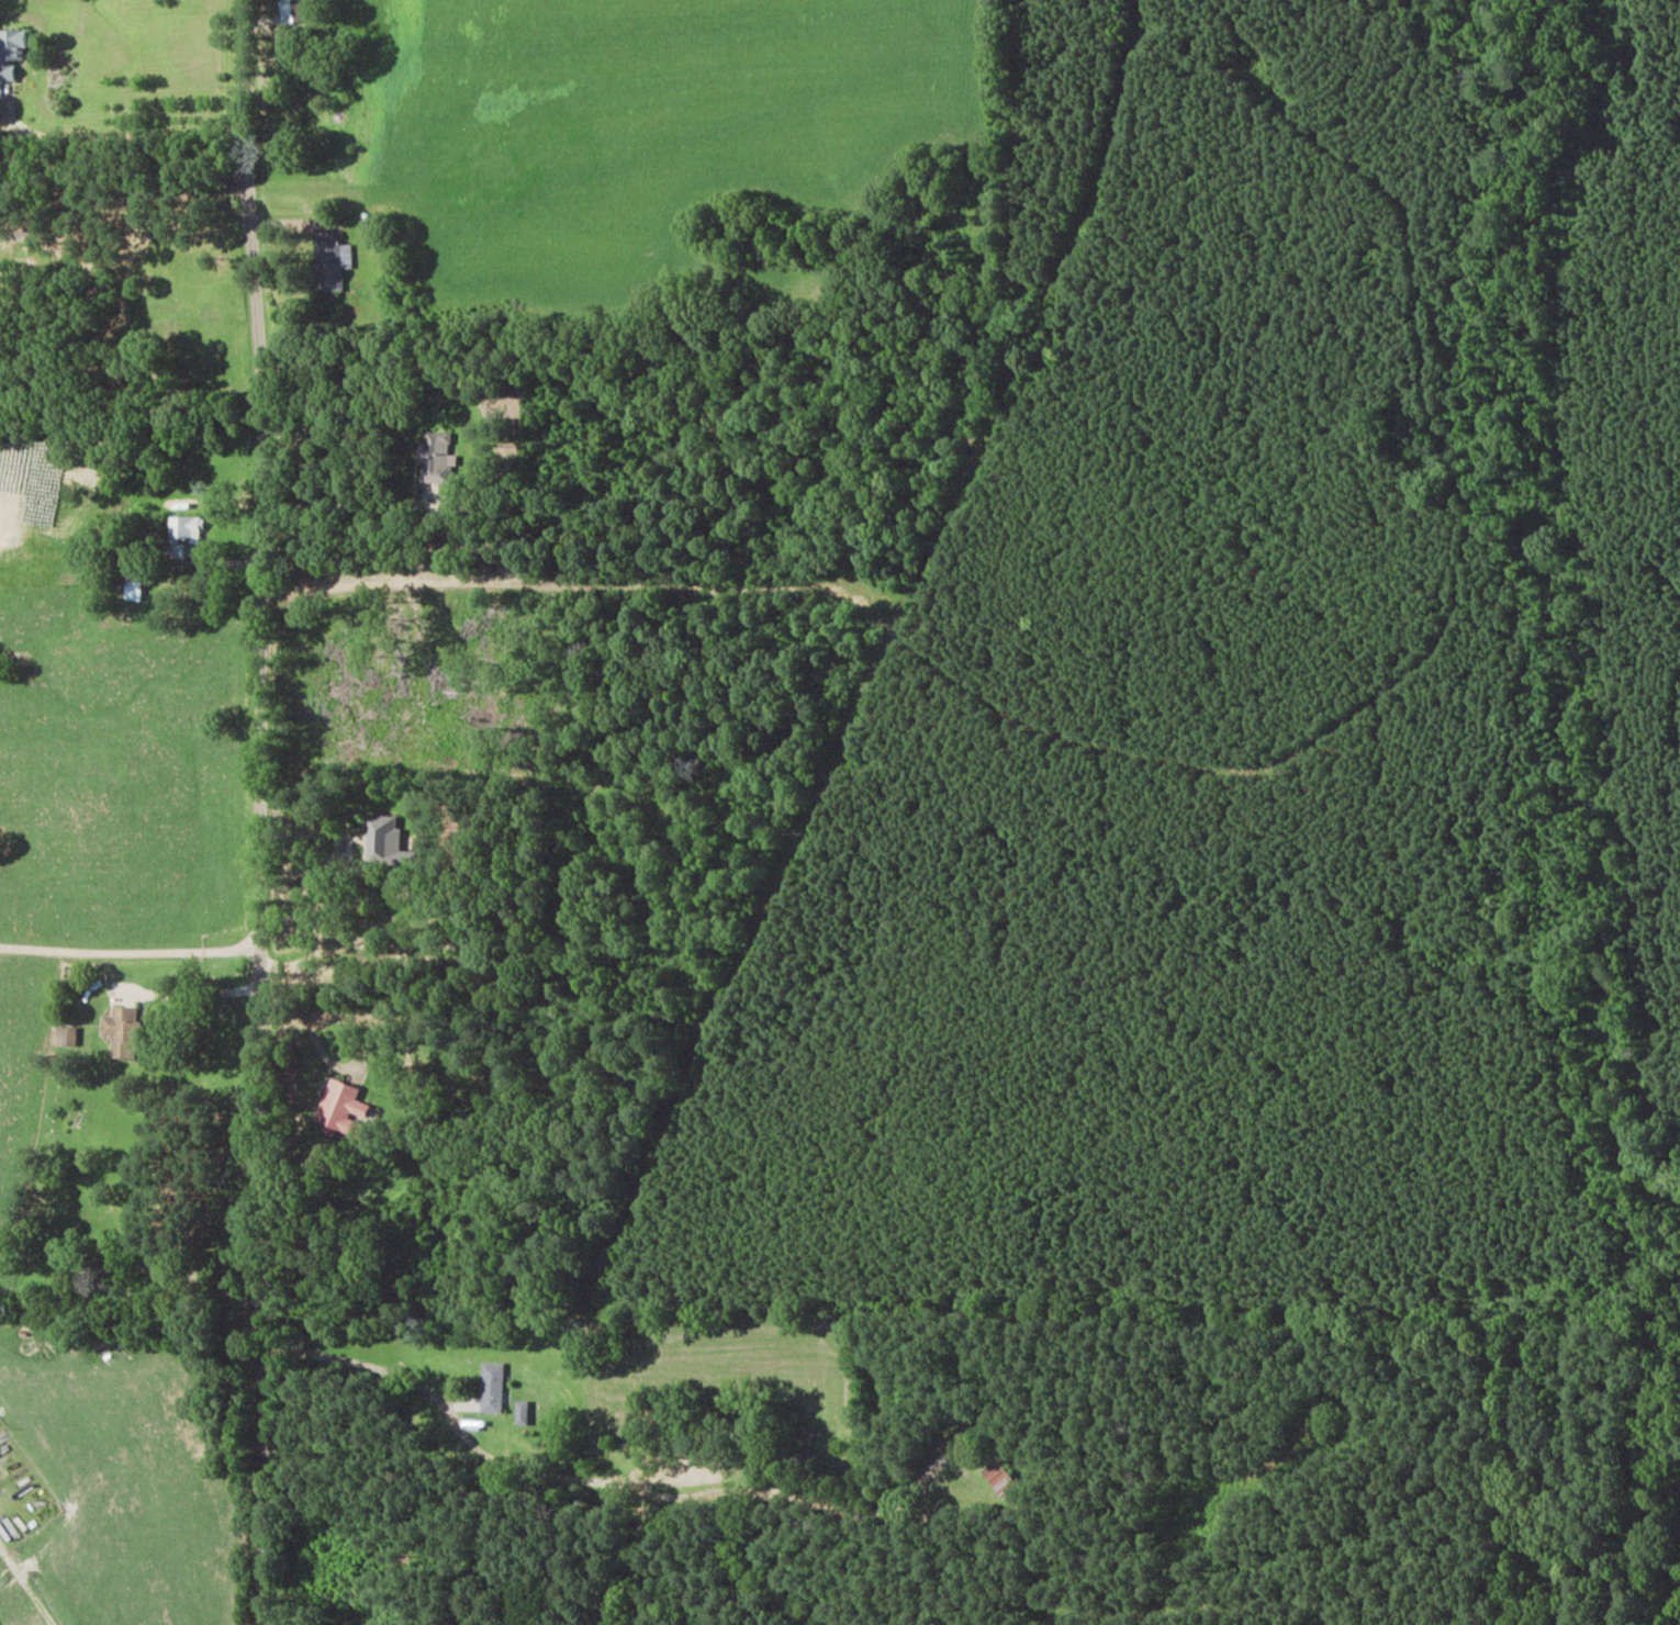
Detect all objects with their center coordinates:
building: (287, 11)
building: (10, 52)
building: (333, 262)
building: (437, 457)
building: (186, 529)
road: (256, 811)
building: (385, 842)
building: (124, 1031)
building: (341, 1108)
building: (492, 1386)
building: (523, 1411)
building: (964, 1442)
road: (481, 1456)
building: (1000, 1477)

